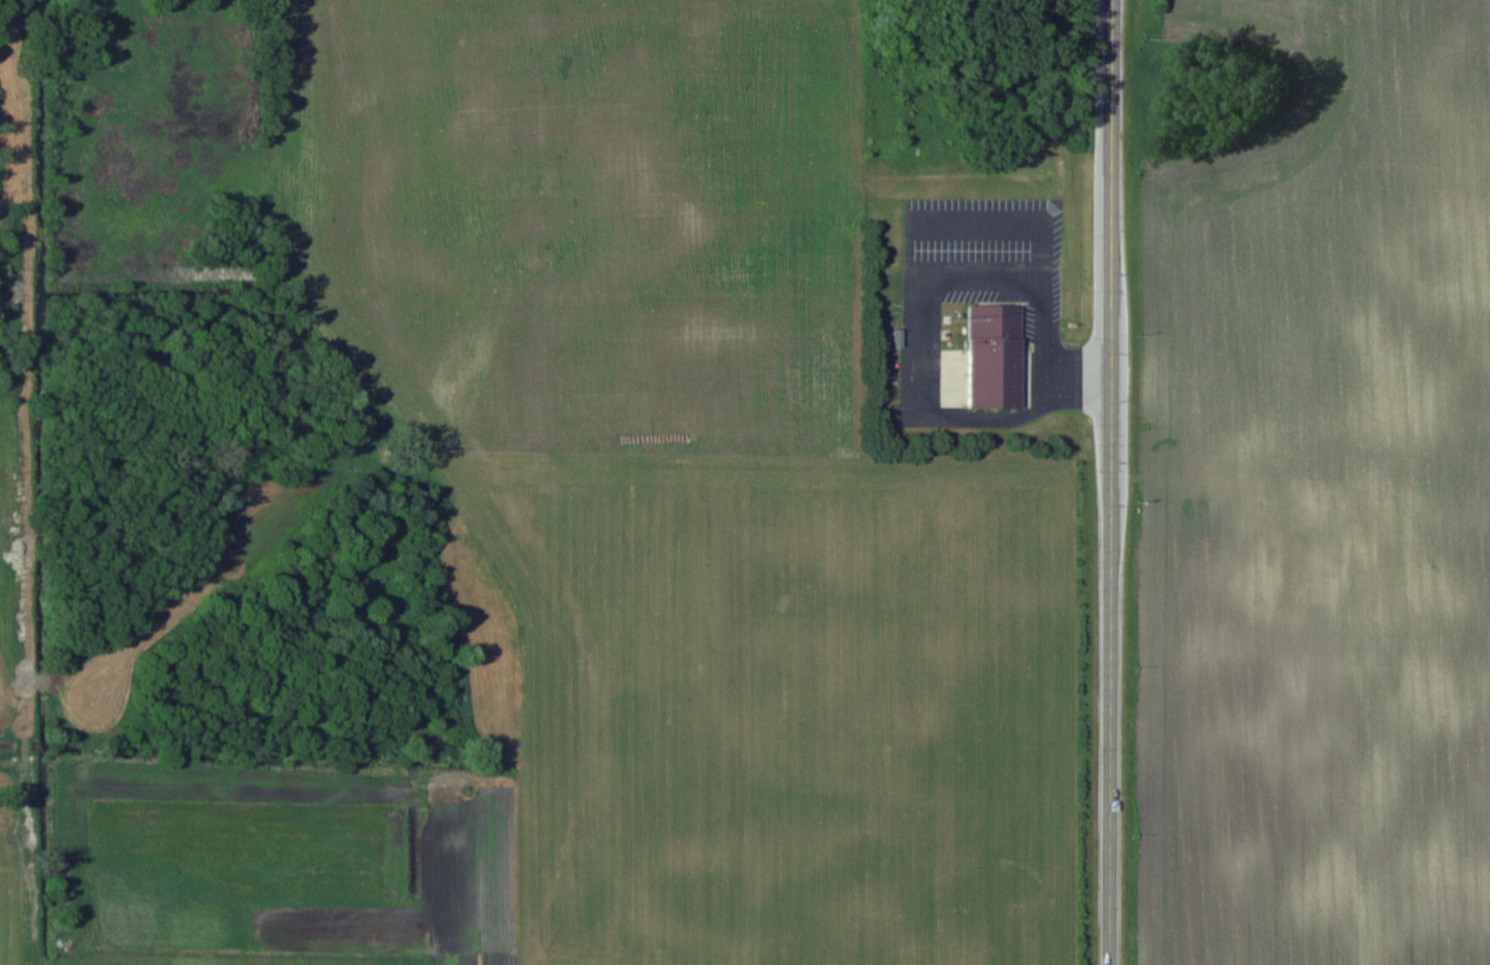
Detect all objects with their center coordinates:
building: (994, 357)
road: (1102, 482)

